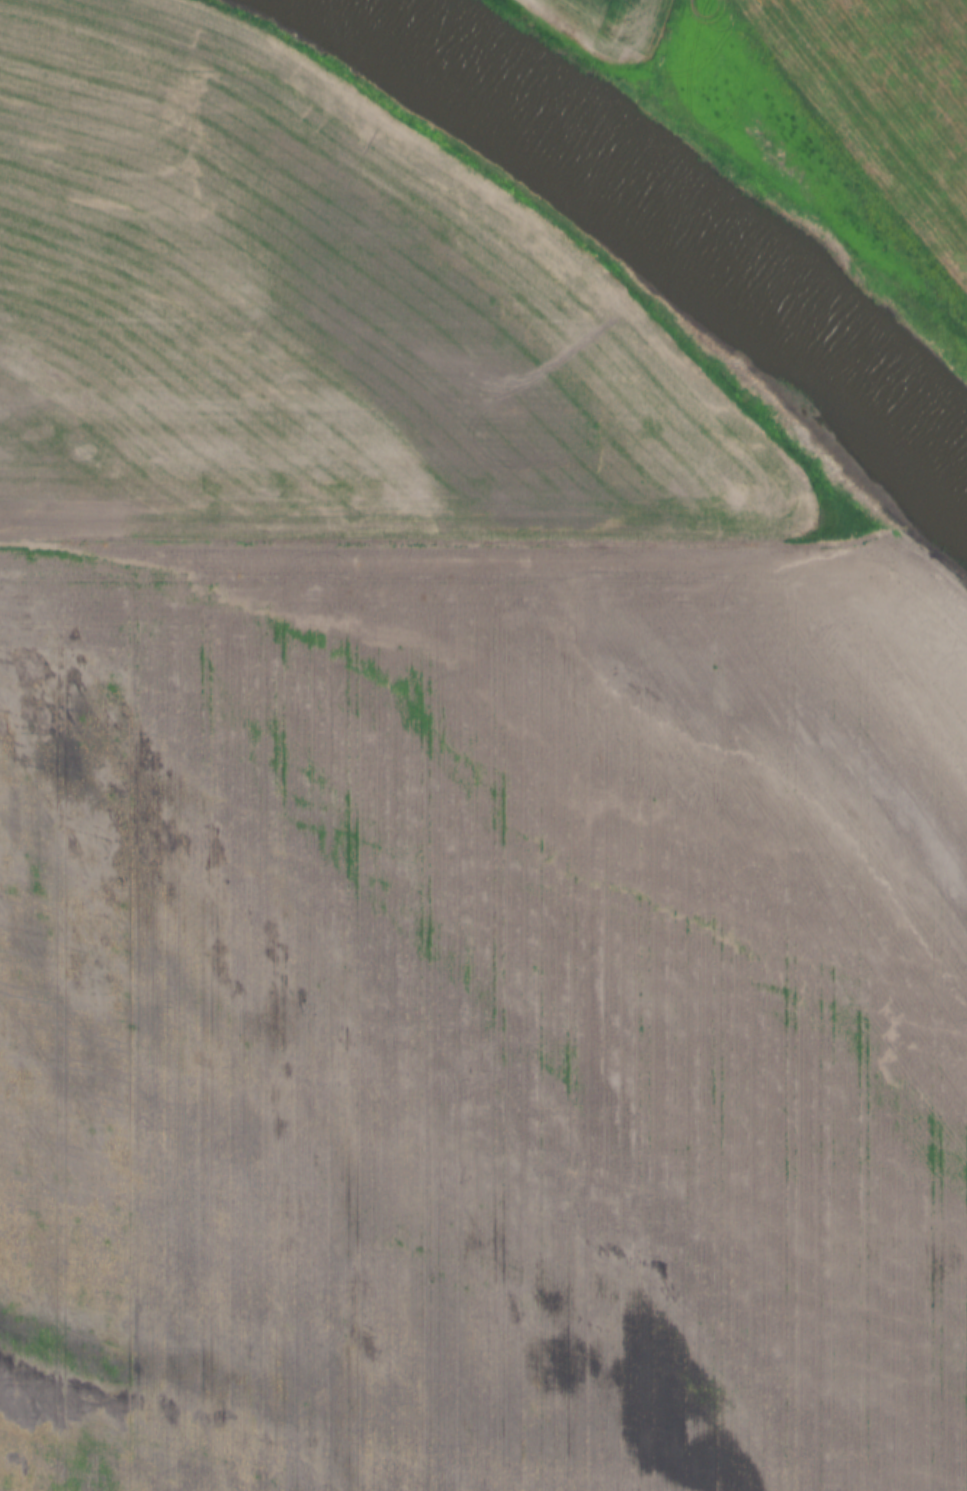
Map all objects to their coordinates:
river: (667, 216)

